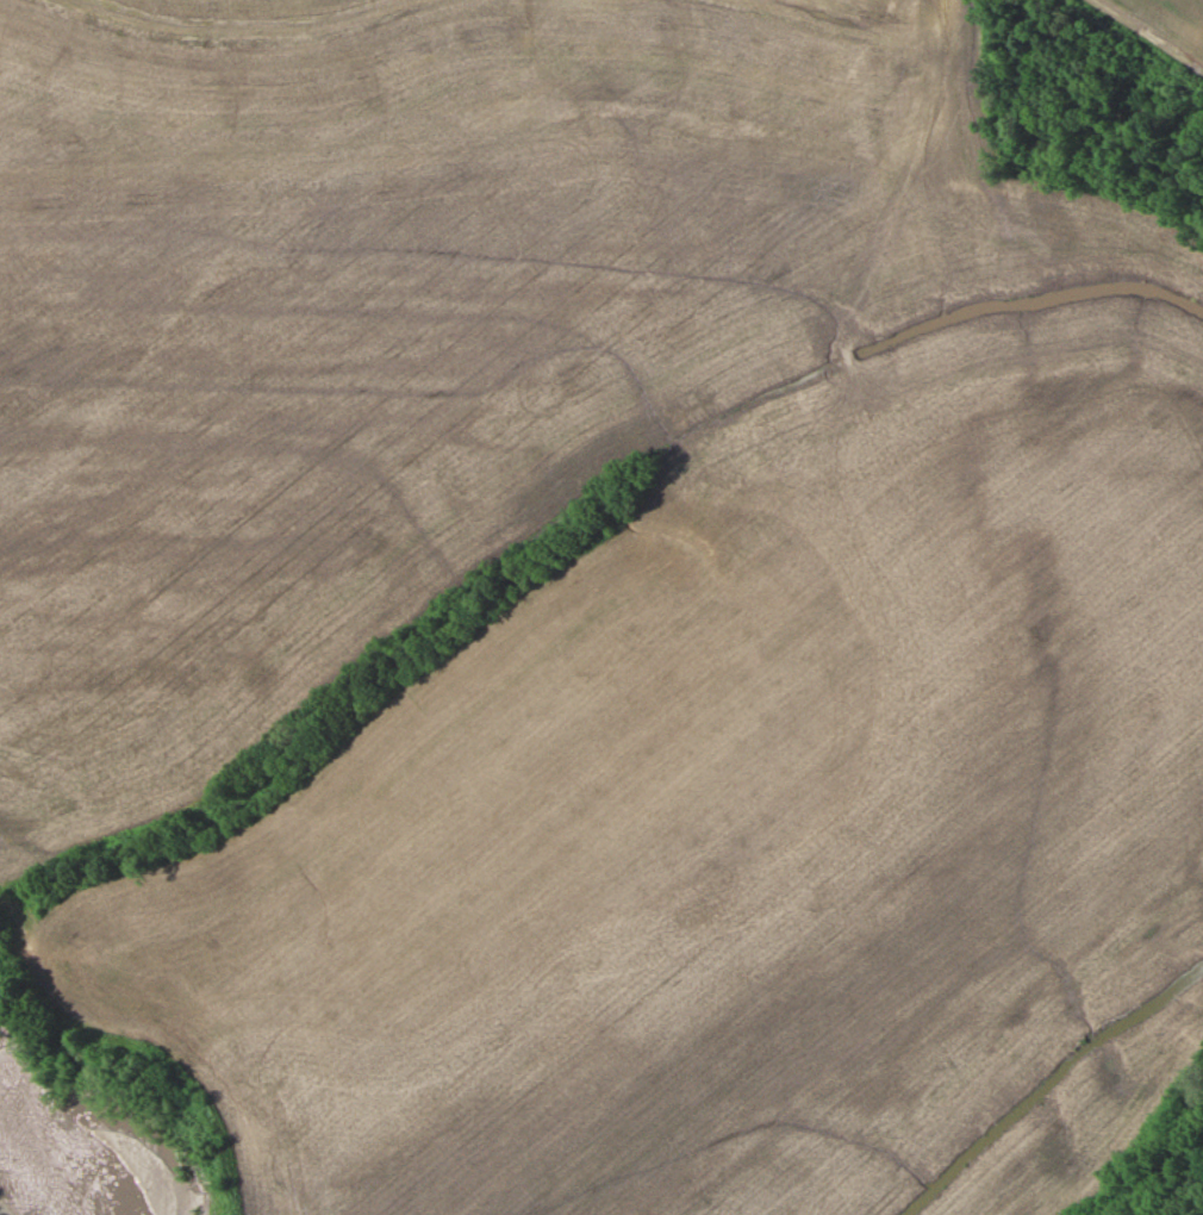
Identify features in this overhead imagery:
road: (1149, 35)
crop: (621, 665)
river: (45, 1157)

